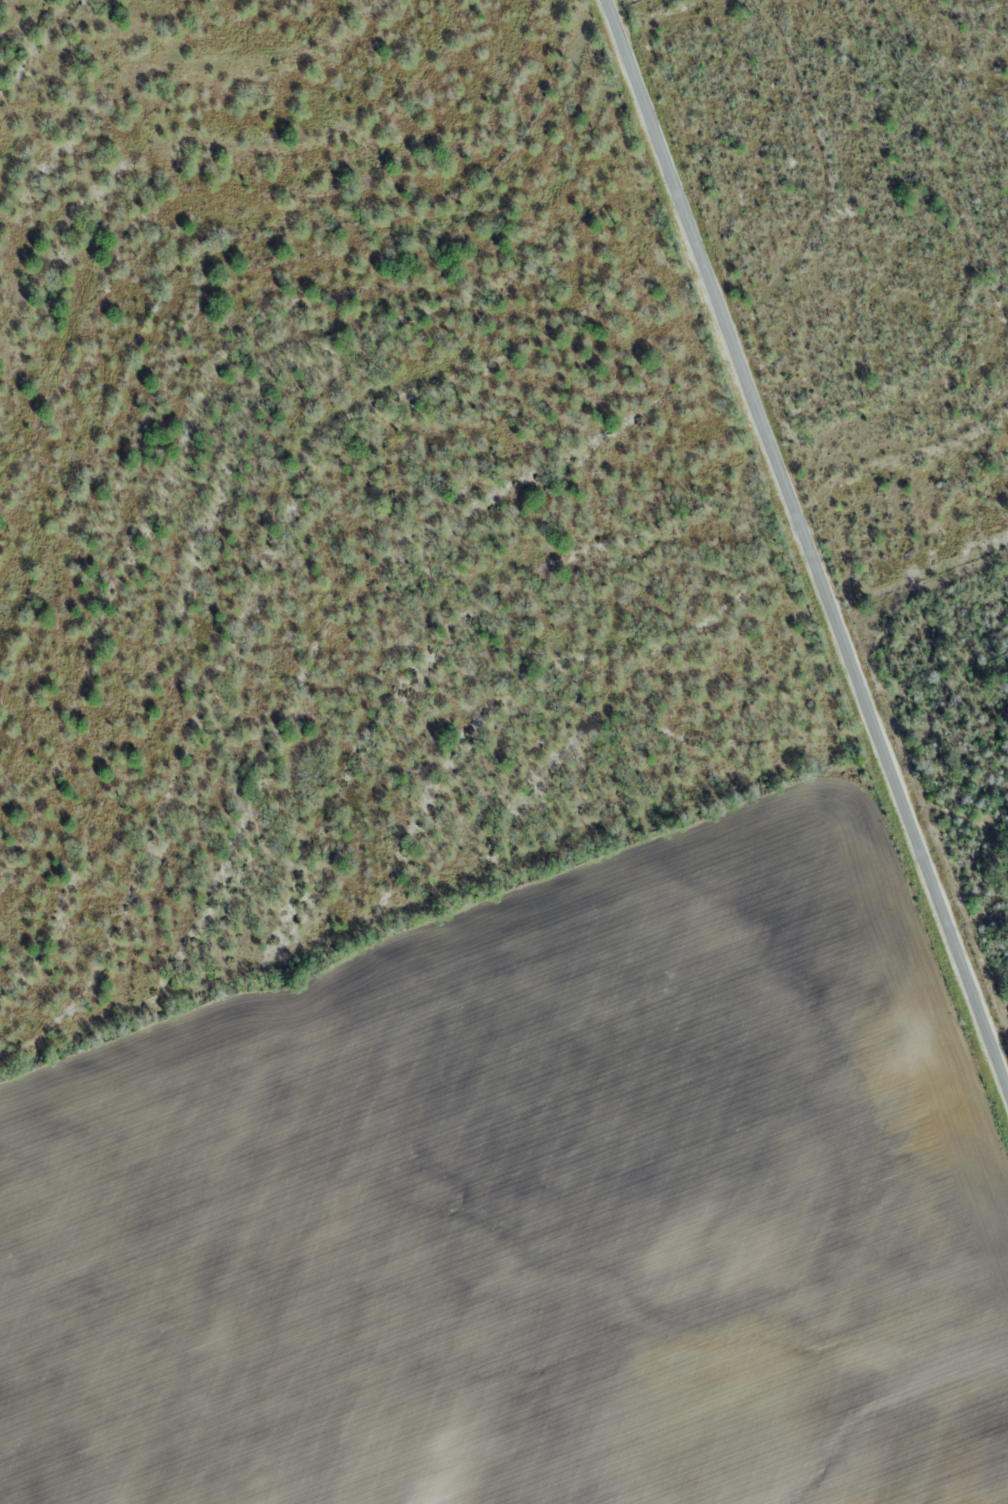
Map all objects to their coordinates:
road: (805, 545)

